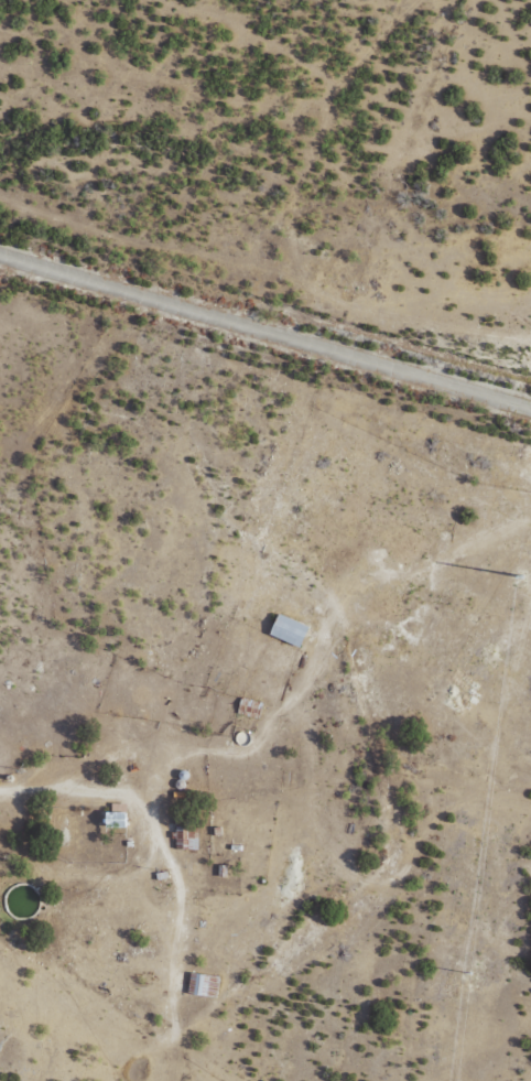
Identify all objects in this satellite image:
road: (265, 333)
power tower: (521, 584)
building: (286, 628)
road: (195, 806)
road: (507, 910)
power tower: (469, 976)
building: (202, 984)

